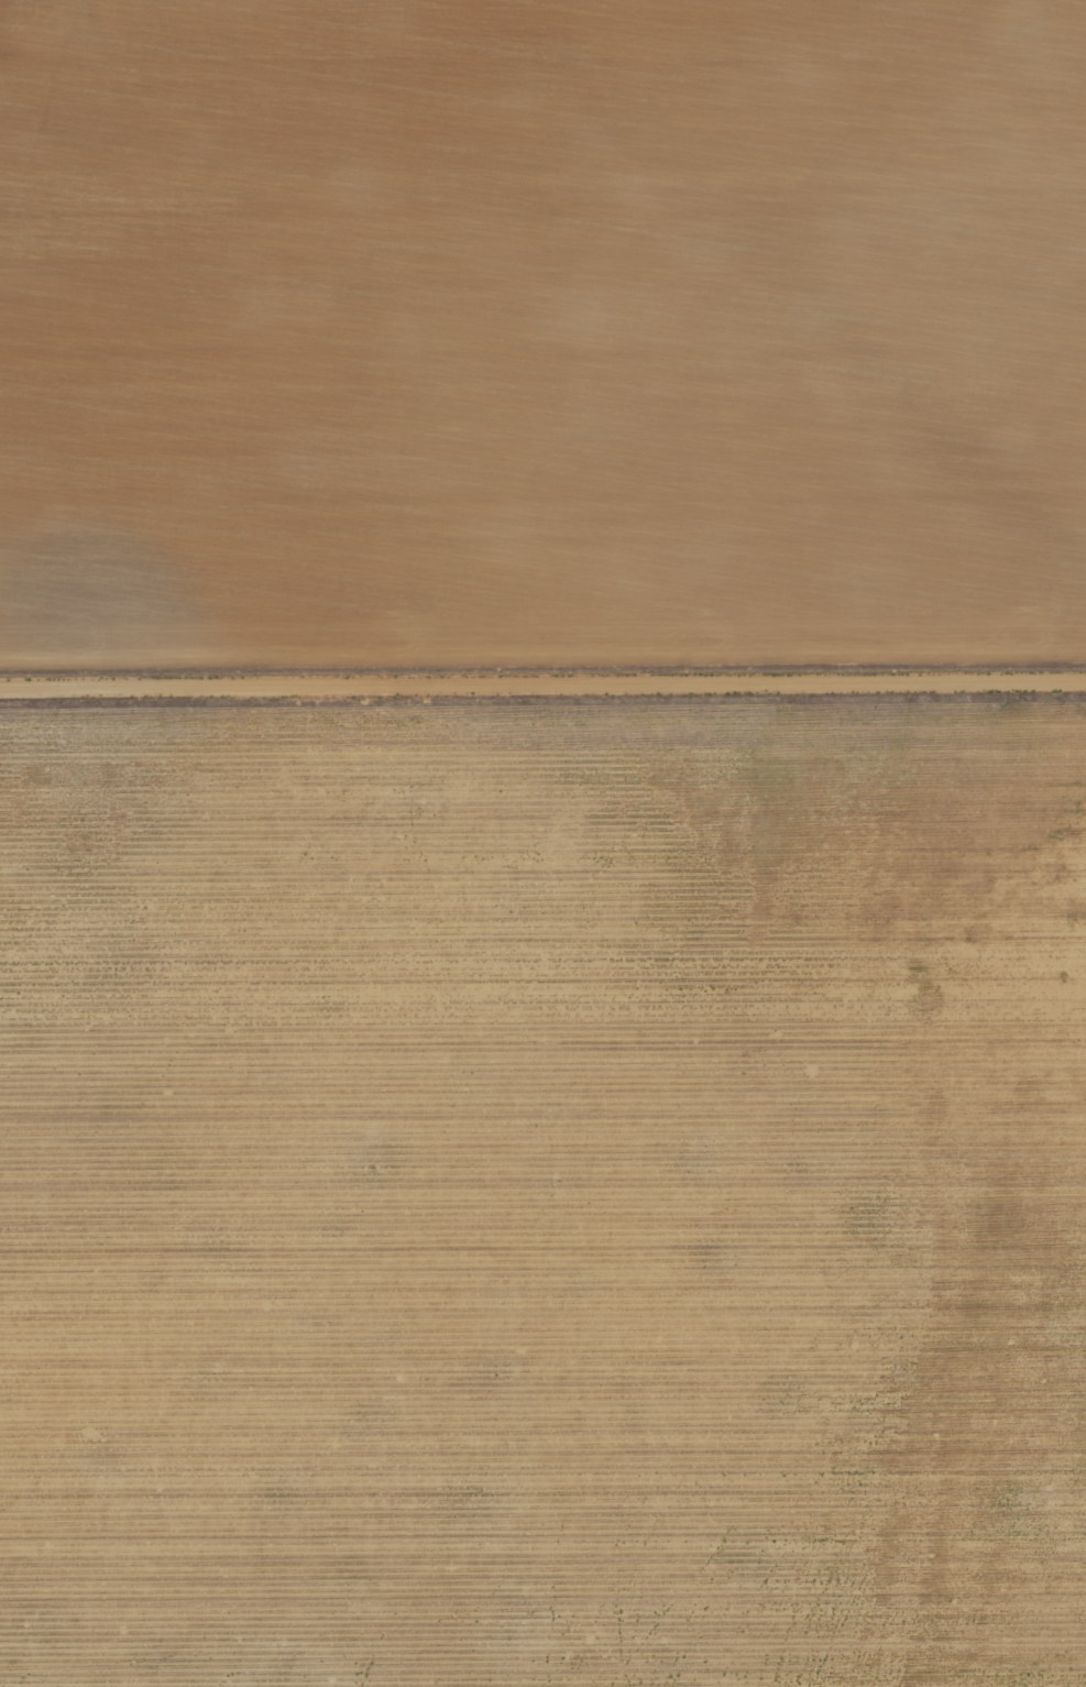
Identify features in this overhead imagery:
road: (542, 681)

